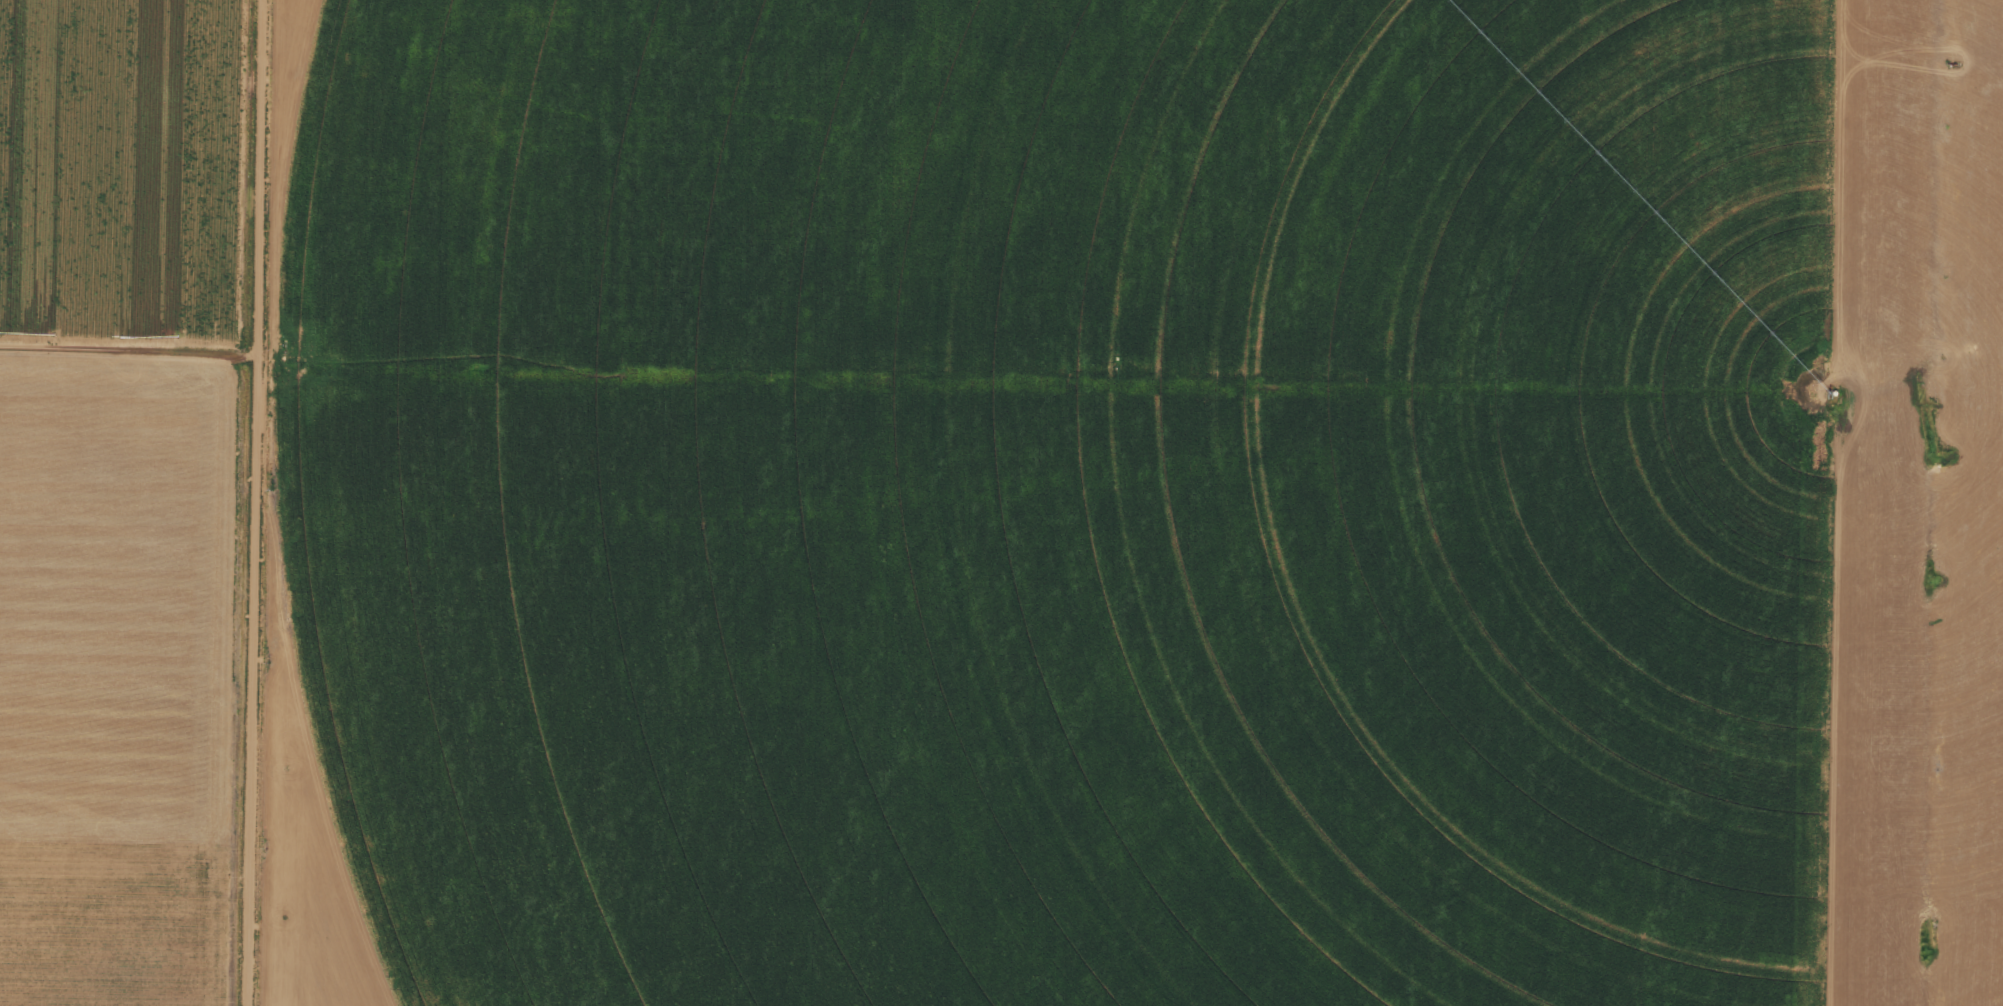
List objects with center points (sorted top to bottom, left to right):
road: (258, 502)

